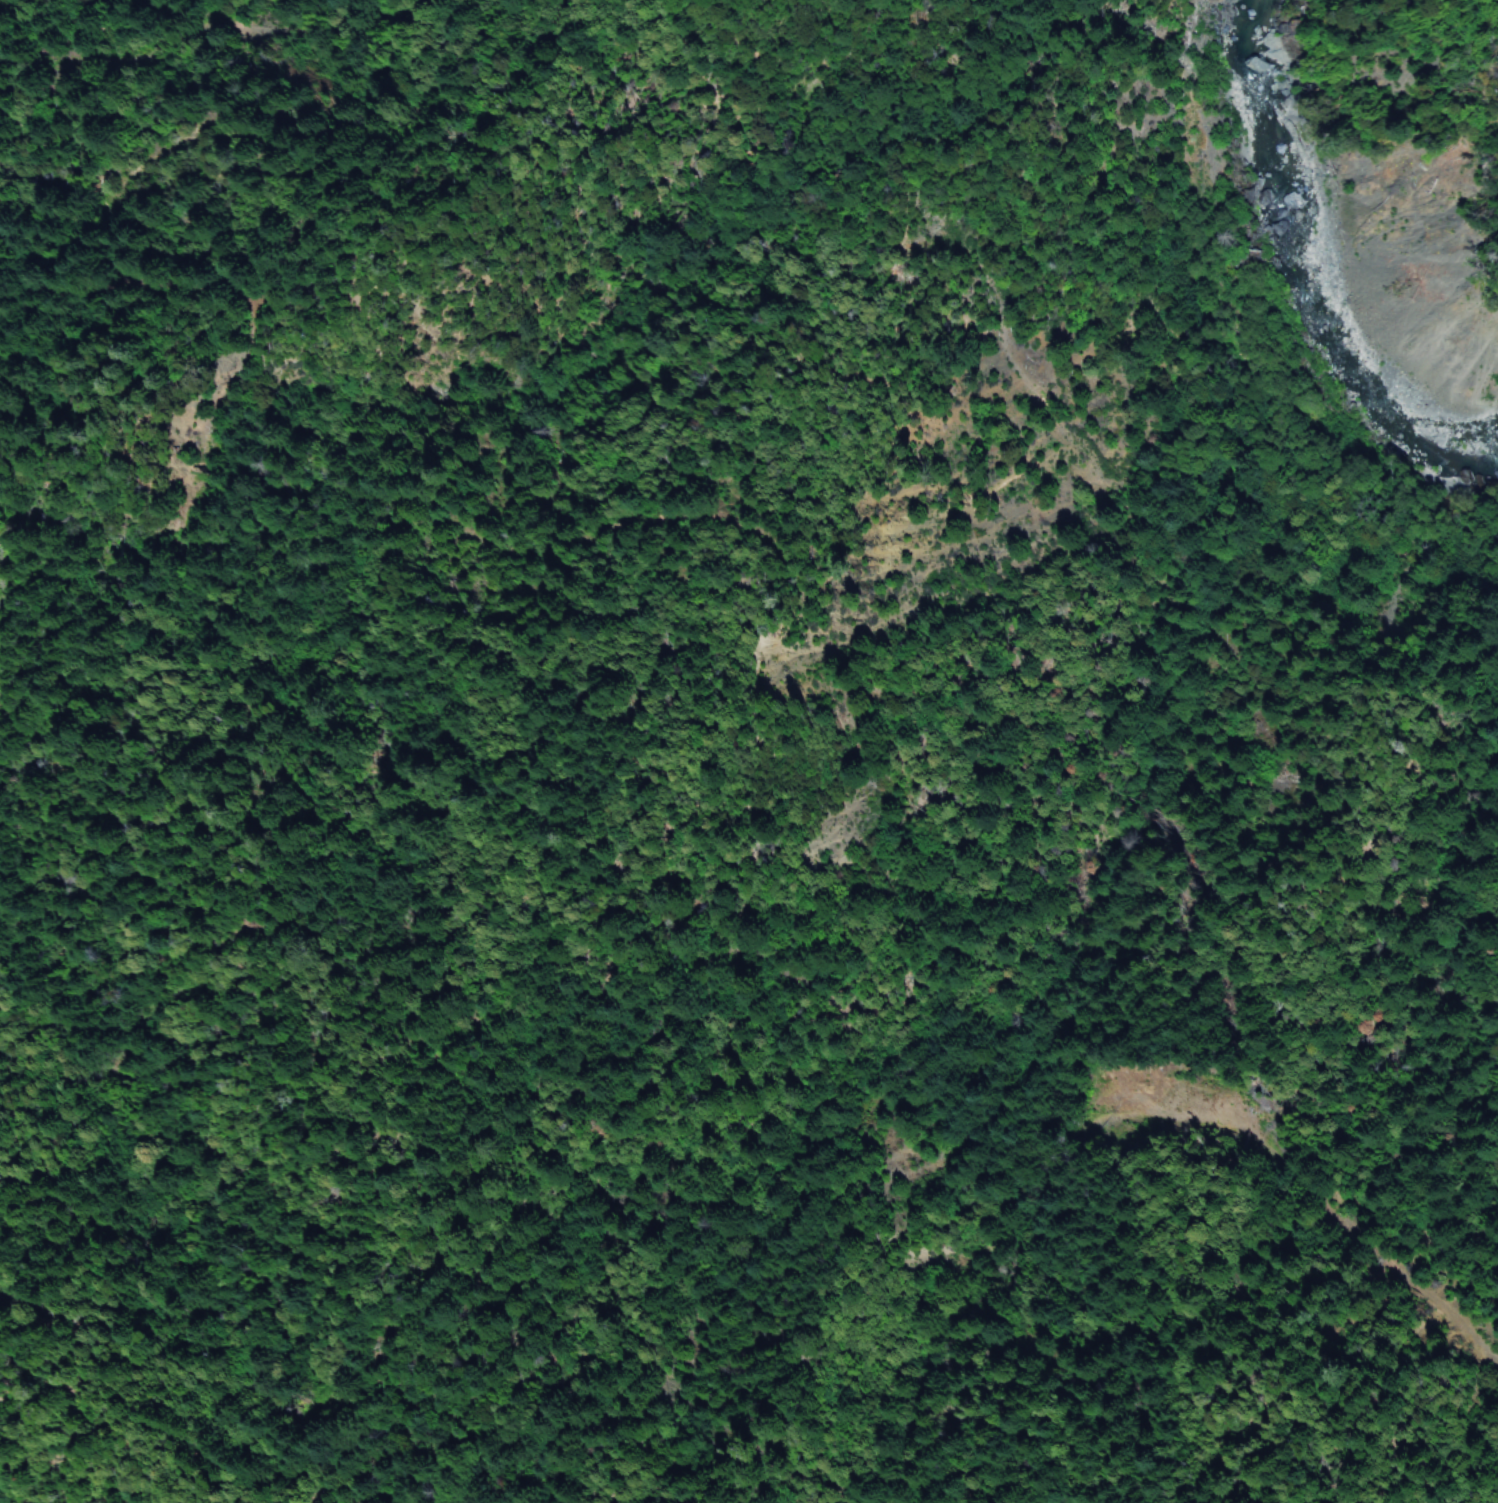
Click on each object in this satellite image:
river: (1316, 271)

